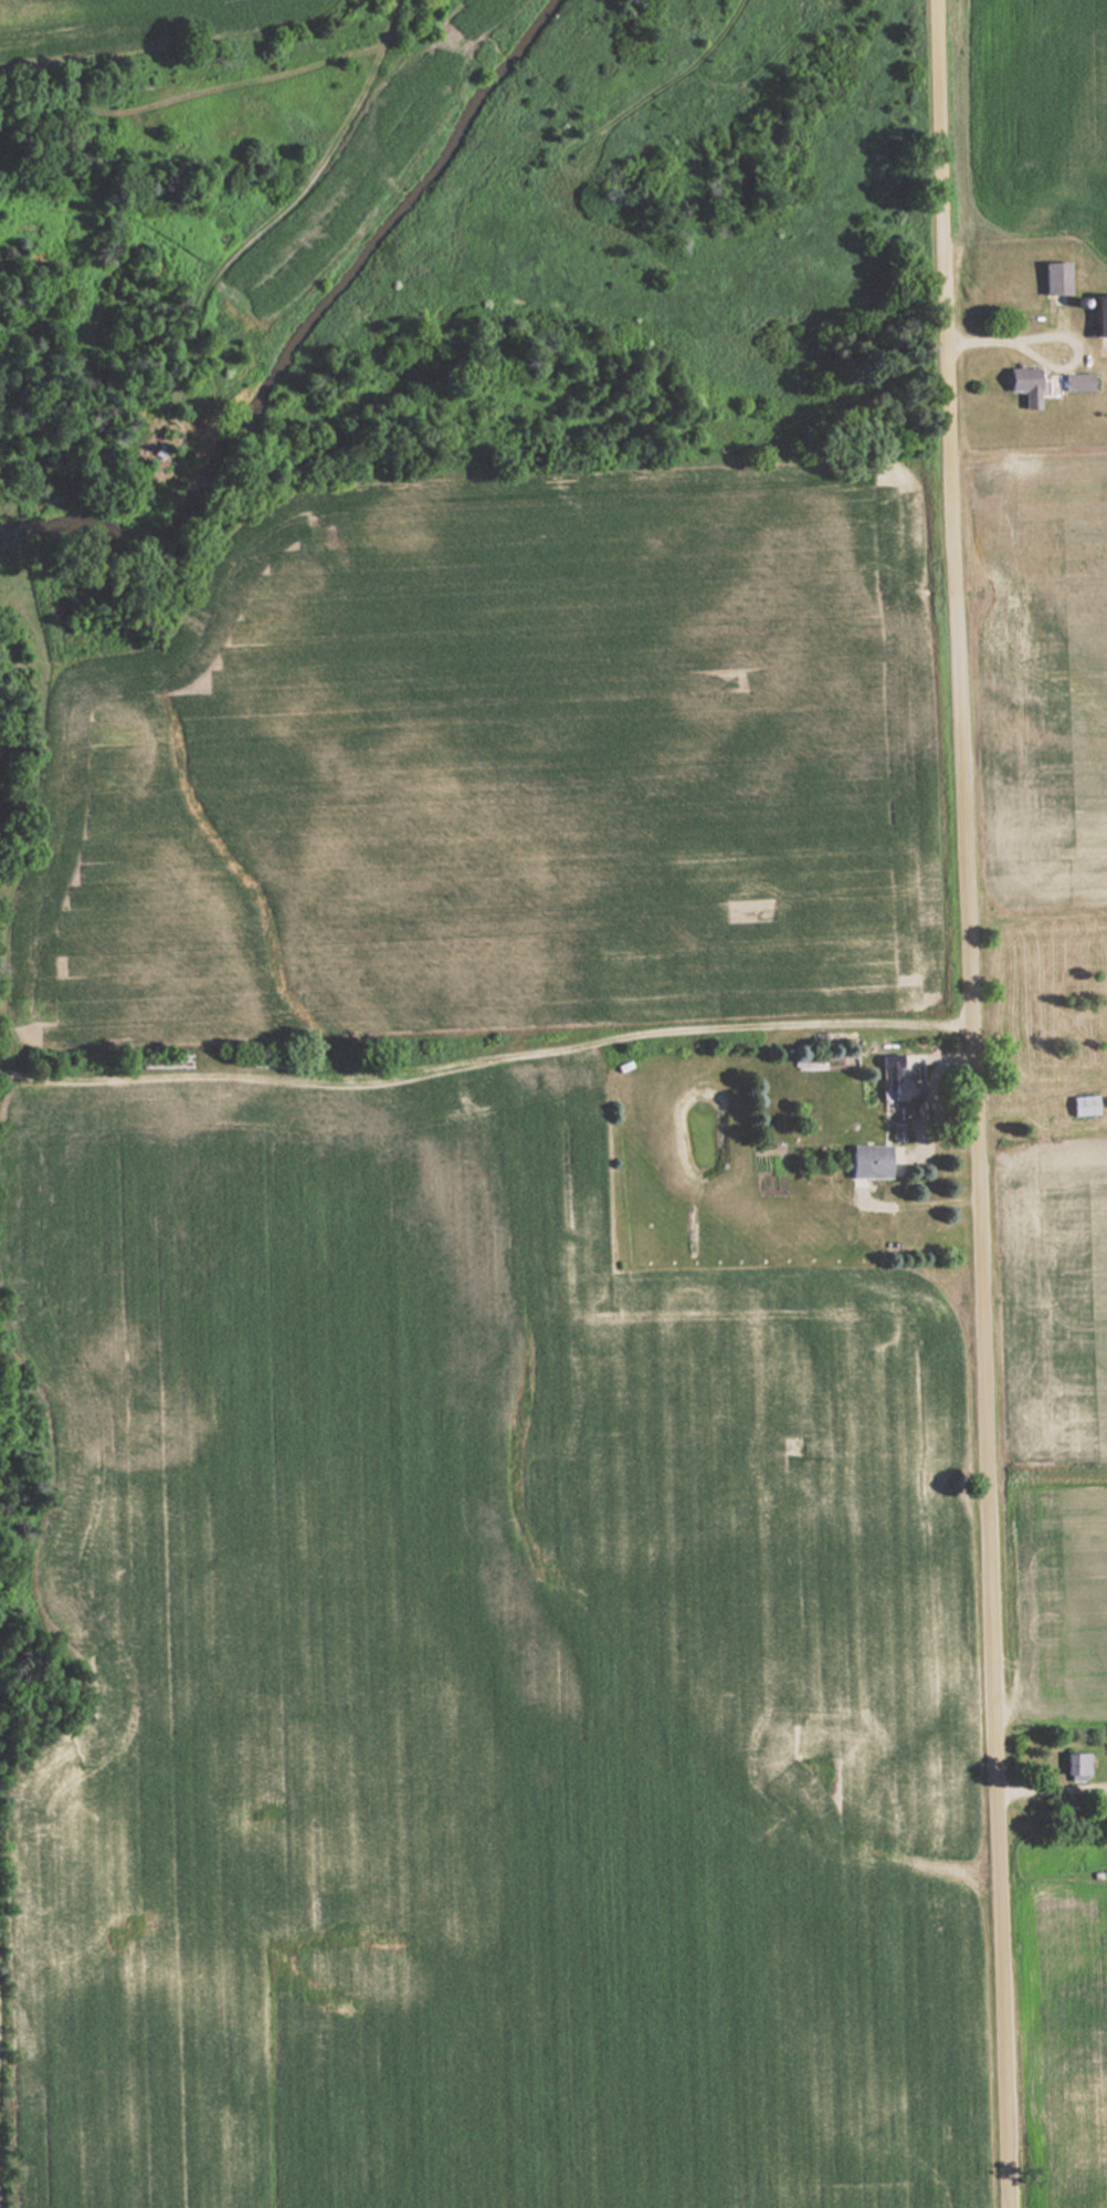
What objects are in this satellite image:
building: (1055, 278)
building: (1101, 315)
building: (1078, 381)
building: (1026, 385)
building: (1043, 1080)
building: (904, 1091)
road: (974, 1103)
building: (1084, 1105)
building: (871, 1161)
building: (1077, 1765)

